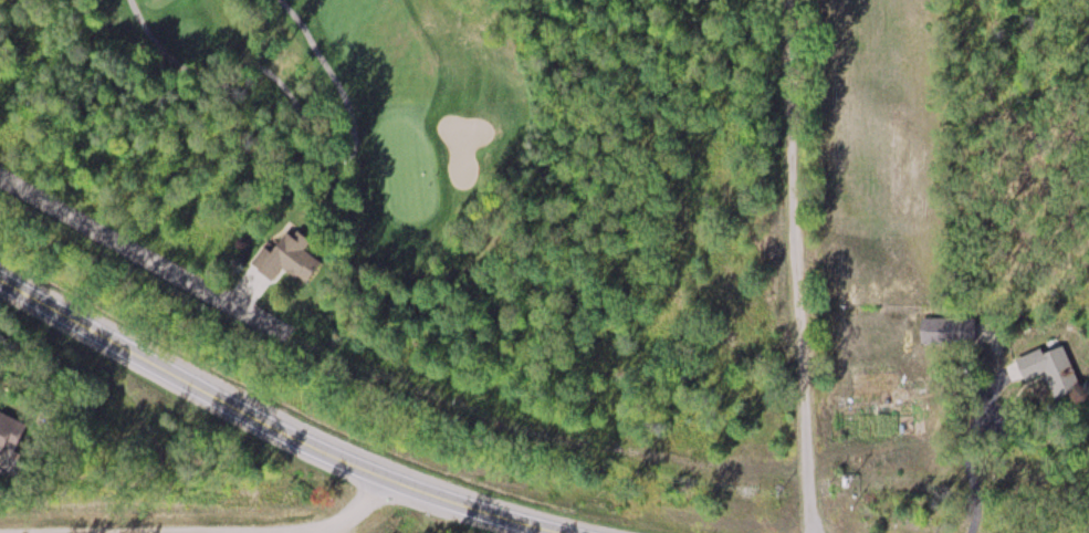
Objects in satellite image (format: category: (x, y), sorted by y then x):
park: (345, 140)
park: (408, 170)
building: (290, 253)
road: (156, 260)
road: (800, 266)
building: (949, 331)
building: (1051, 369)
road: (278, 427)
road: (214, 512)

